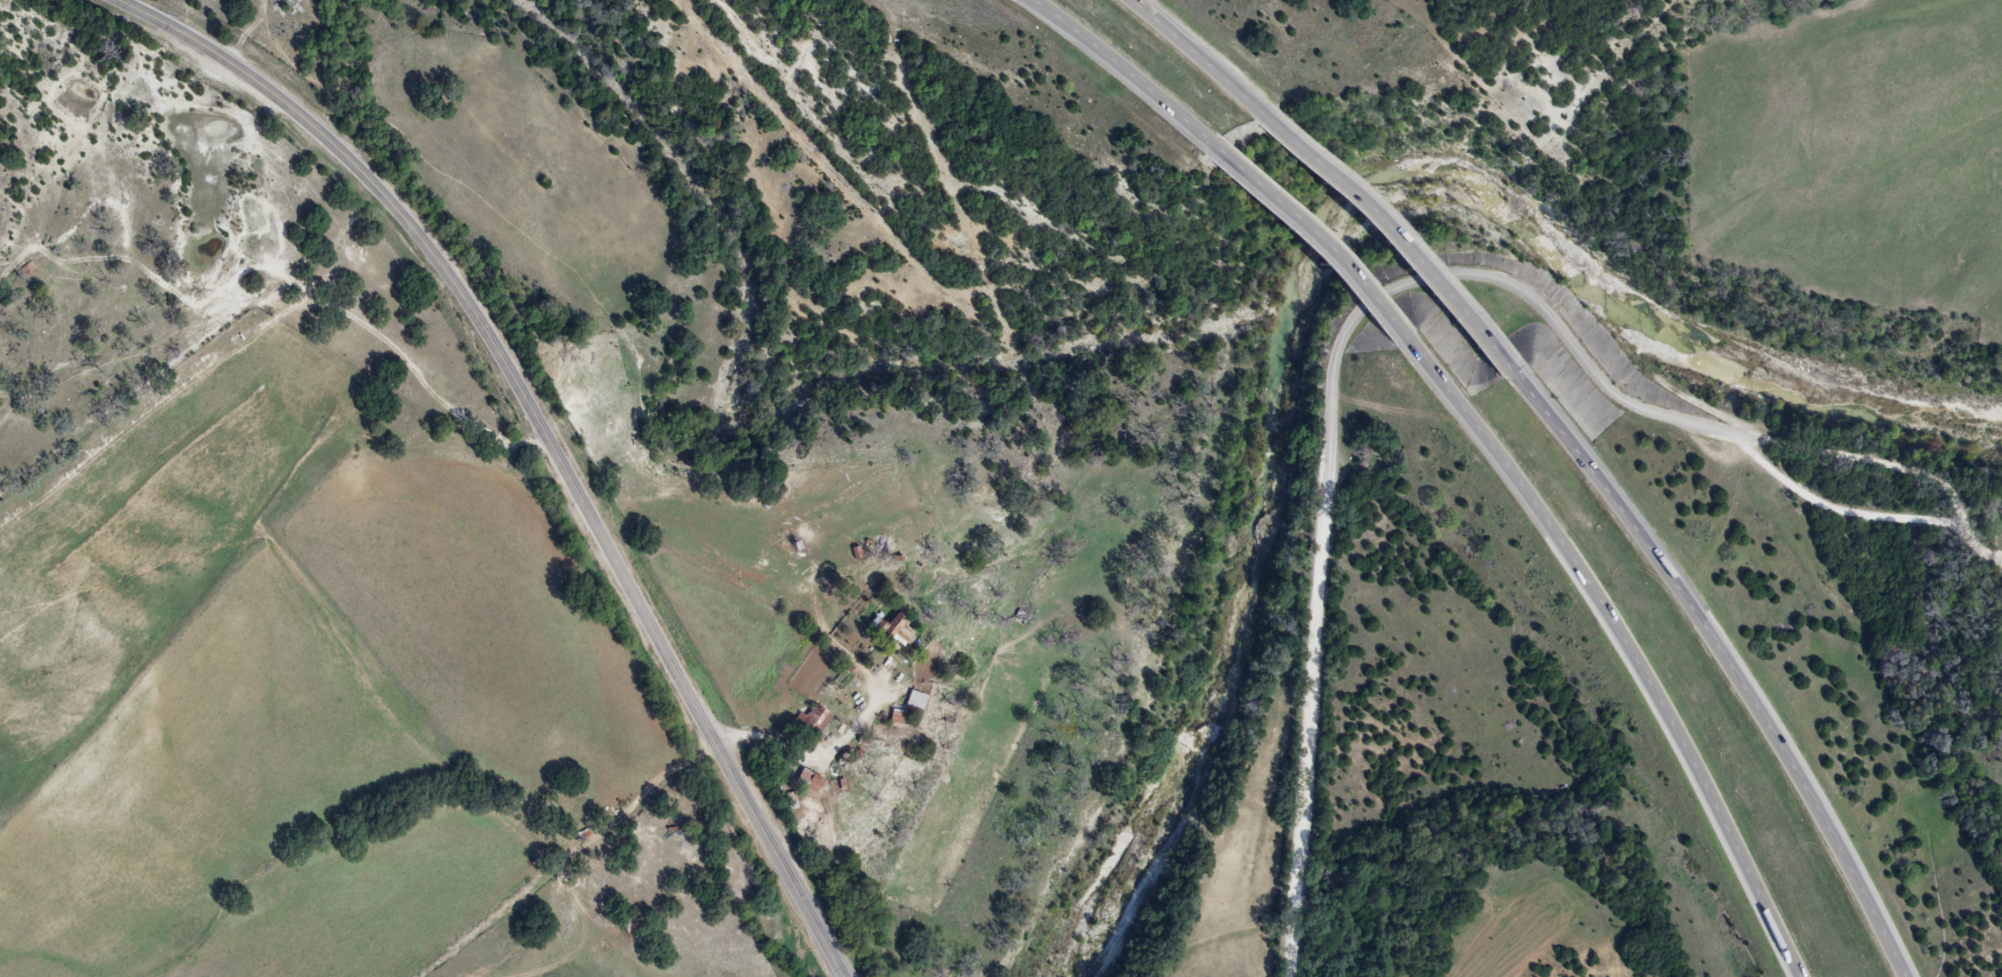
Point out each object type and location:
road: (1200, 54)
road: (1121, 69)
road: (1304, 235)
road: (1383, 240)
road: (1400, 299)
road: (542, 434)
building: (790, 549)
building: (894, 632)
road: (1621, 641)
road: (1725, 660)
building: (913, 701)
building: (816, 720)
building: (896, 720)
building: (808, 782)
building: (835, 787)

